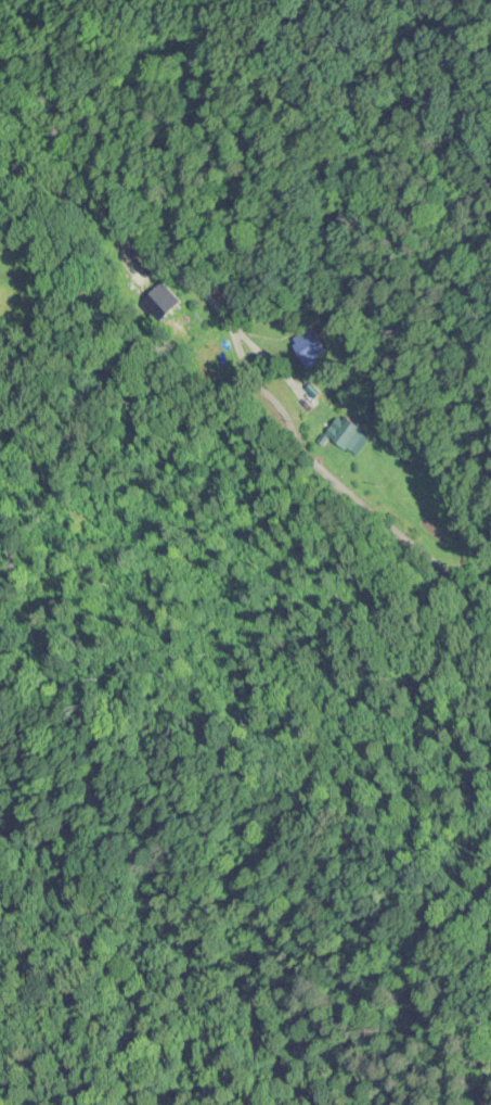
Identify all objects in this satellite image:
road: (256, 379)

